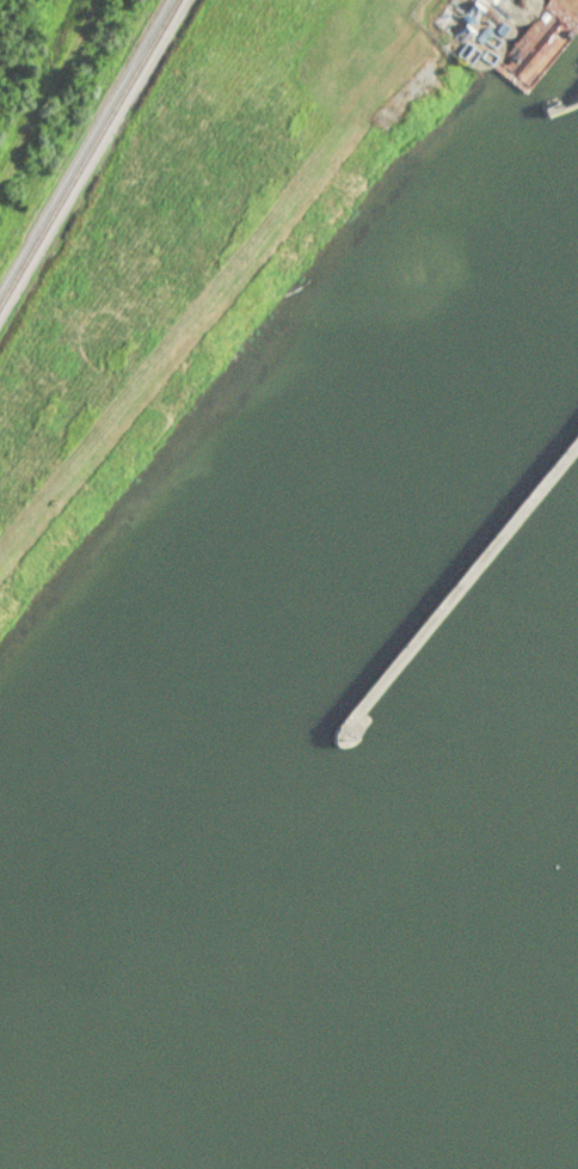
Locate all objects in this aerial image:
railway: (93, 155)
river: (273, 723)
river: (475, 1076)

